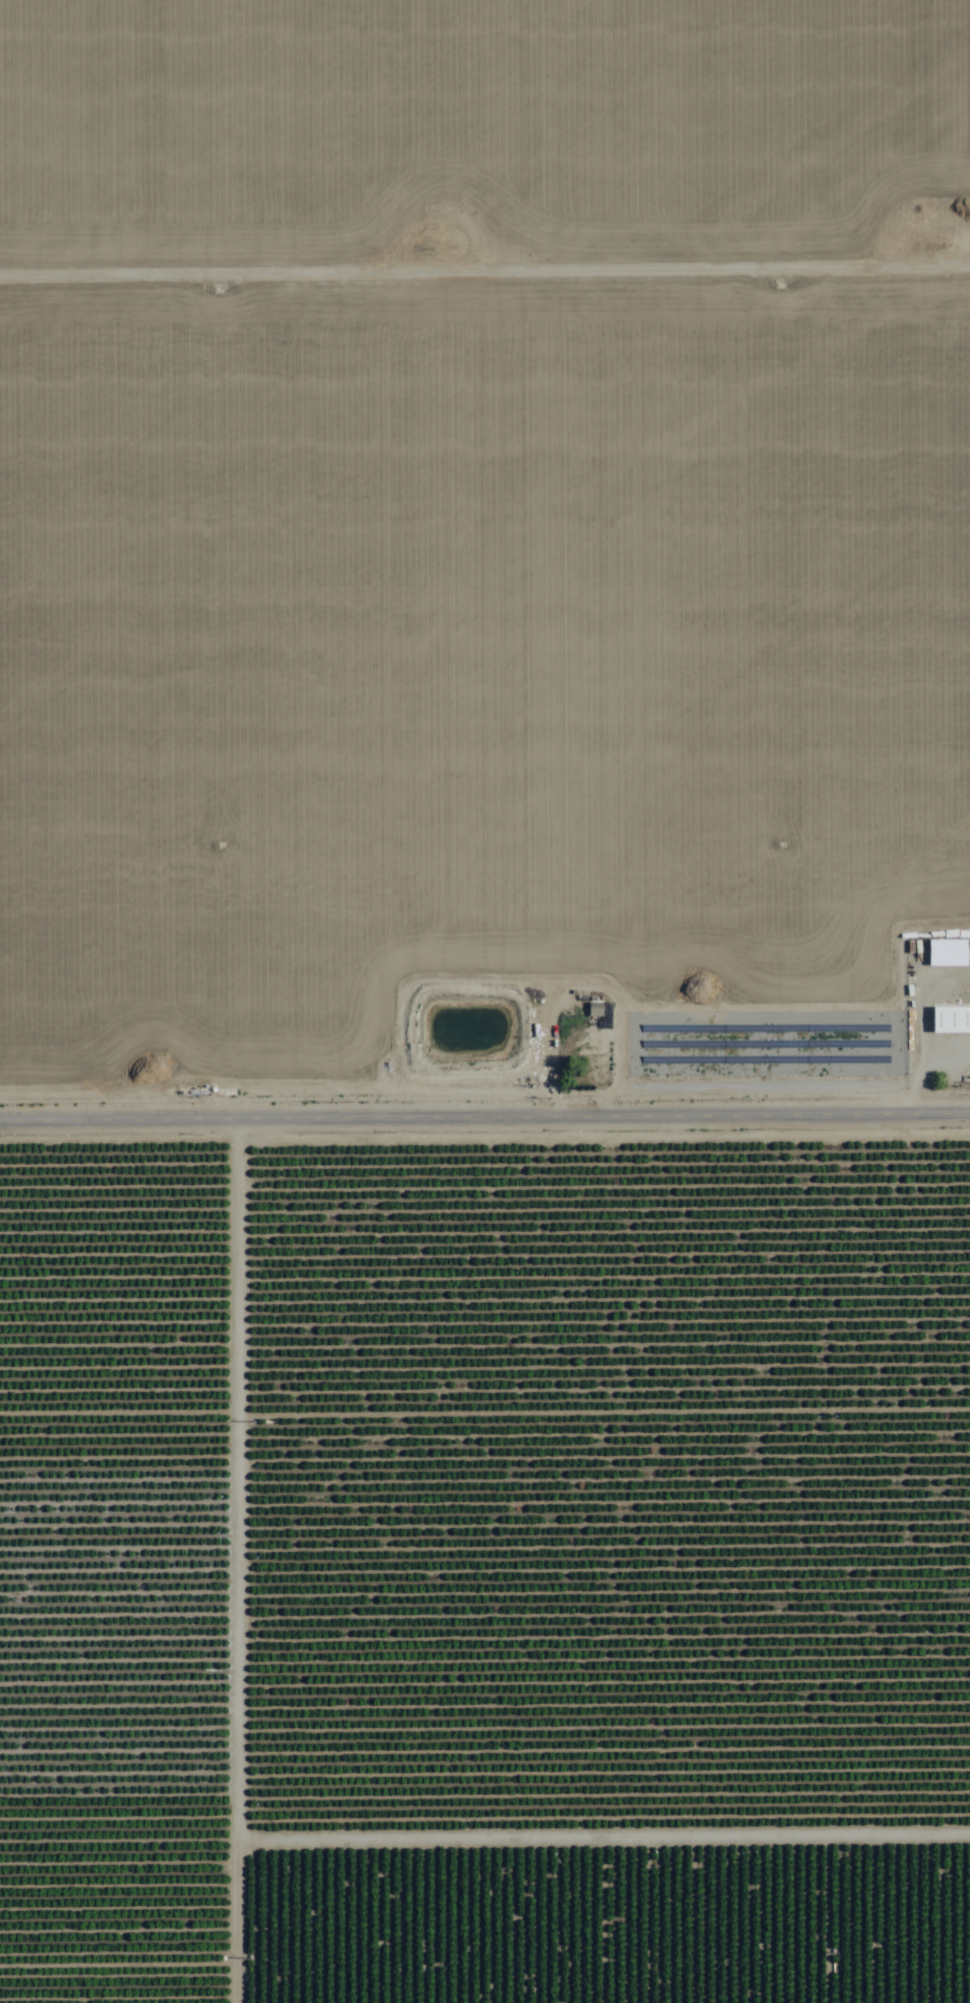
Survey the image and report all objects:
crop: (485, 1001)
building: (594, 1010)
building: (950, 1020)
wastewater plant: (465, 1032)
road: (485, 1112)

